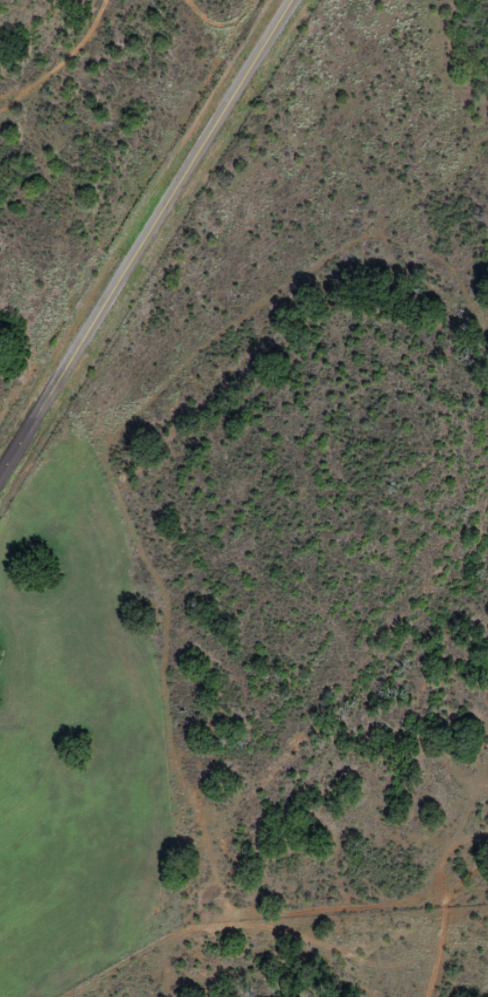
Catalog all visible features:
road: (146, 236)
road: (420, 913)

